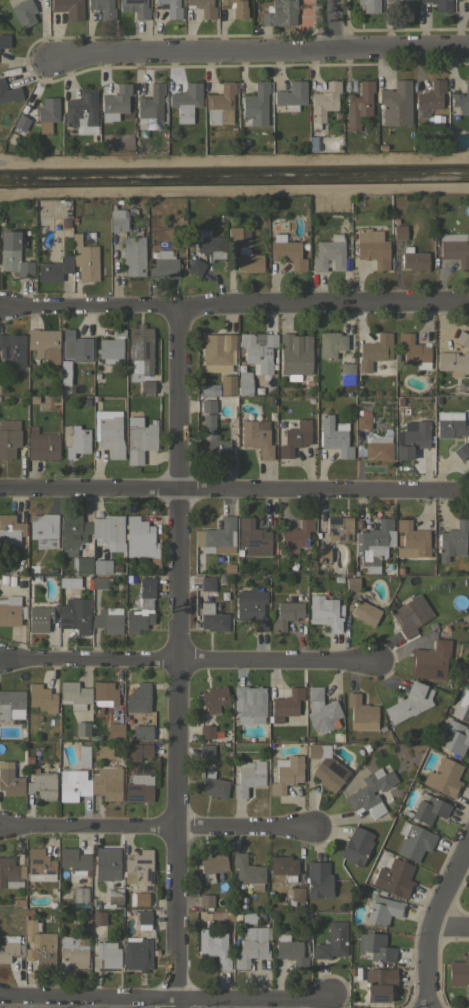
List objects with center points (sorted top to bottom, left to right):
building: (440, 5)
building: (468, 5)
building: (369, 6)
building: (406, 6)
building: (203, 7)
building: (236, 7)
building: (68, 8)
building: (102, 8)
building: (135, 8)
building: (171, 8)
building: (24, 12)
building: (279, 13)
building: (220, 14)
road: (328, 26)
building: (4, 40)
road: (265, 54)
building: (9, 92)
building: (291, 95)
building: (431, 95)
building: (116, 99)
building: (462, 99)
building: (186, 101)
building: (323, 103)
building: (220, 104)
building: (358, 104)
building: (395, 104)
building: (255, 105)
building: (151, 107)
building: (48, 109)
building: (81, 111)
building: (421, 113)
building: (337, 115)
building: (21, 122)
building: (381, 147)
building: (118, 219)
building: (399, 232)
building: (234, 234)
building: (210, 244)
building: (372, 247)
building: (454, 248)
building: (287, 252)
building: (329, 253)
building: (13, 254)
building: (133, 255)
building: (85, 259)
building: (414, 259)
building: (249, 261)
building: (163, 265)
building: (196, 267)
building: (54, 269)
road: (229, 302)
building: (462, 339)
building: (270, 340)
building: (331, 344)
building: (44, 345)
building: (78, 346)
building: (111, 347)
building: (141, 347)
building: (12, 350)
building: (414, 350)
building: (375, 351)
building: (217, 352)
building: (256, 353)
building: (295, 353)
building: (453, 363)
building: (347, 373)
building: (297, 377)
building: (244, 382)
building: (227, 384)
building: (146, 387)
building: (210, 389)
building: (208, 406)
building: (363, 422)
building: (450, 428)
building: (109, 432)
building: (334, 436)
building: (9, 437)
building: (256, 437)
building: (139, 438)
building: (294, 438)
building: (412, 438)
building: (212, 440)
building: (77, 441)
building: (42, 445)
building: (378, 447)
building: (461, 451)
road: (227, 490)
building: (108, 528)
building: (339, 528)
building: (10, 529)
building: (44, 530)
building: (73, 531)
building: (252, 533)
building: (217, 535)
building: (296, 535)
building: (139, 538)
building: (412, 540)
building: (453, 540)
building: (374, 542)
building: (222, 549)
building: (323, 554)
building: (83, 565)
building: (101, 566)
building: (389, 569)
building: (99, 582)
building: (207, 583)
building: (352, 584)
building: (251, 607)
building: (140, 608)
building: (11, 610)
building: (365, 610)
building: (324, 612)
building: (77, 614)
building: (286, 614)
building: (411, 615)
building: (40, 618)
building: (212, 619)
building: (108, 620)
road: (176, 655)
building: (431, 660)
road: (186, 662)
building: (104, 694)
building: (74, 695)
building: (41, 698)
building: (138, 698)
building: (214, 699)
building: (409, 702)
building: (11, 704)
building: (249, 704)
building: (285, 704)
building: (462, 707)
building: (321, 711)
building: (361, 713)
building: (82, 729)
building: (115, 730)
building: (141, 732)
building: (206, 732)
building: (455, 737)
building: (103, 750)
building: (138, 750)
building: (207, 751)
building: (83, 756)
building: (326, 767)
building: (286, 773)
building: (444, 777)
building: (249, 778)
building: (10, 780)
building: (107, 782)
building: (73, 784)
building: (42, 785)
building: (213, 785)
building: (139, 788)
building: (370, 792)
building: (429, 809)
road: (159, 827)
building: (414, 841)
building: (356, 846)
building: (75, 863)
building: (107, 863)
building: (40, 865)
building: (212, 866)
building: (139, 867)
building: (283, 867)
building: (10, 873)
building: (247, 873)
building: (395, 877)
building: (318, 879)
building: (296, 894)
building: (80, 895)
building: (114, 895)
building: (139, 899)
building: (206, 900)
building: (383, 910)
building: (248, 917)
building: (98, 918)
building: (143, 919)
road: (430, 920)
road: (447, 929)
building: (332, 941)
building: (39, 944)
building: (251, 945)
building: (213, 946)
building: (375, 947)
building: (10, 948)
building: (74, 950)
building: (291, 952)
building: (137, 953)
building: (108, 954)
building: (459, 972)
building: (378, 983)
road: (166, 996)

